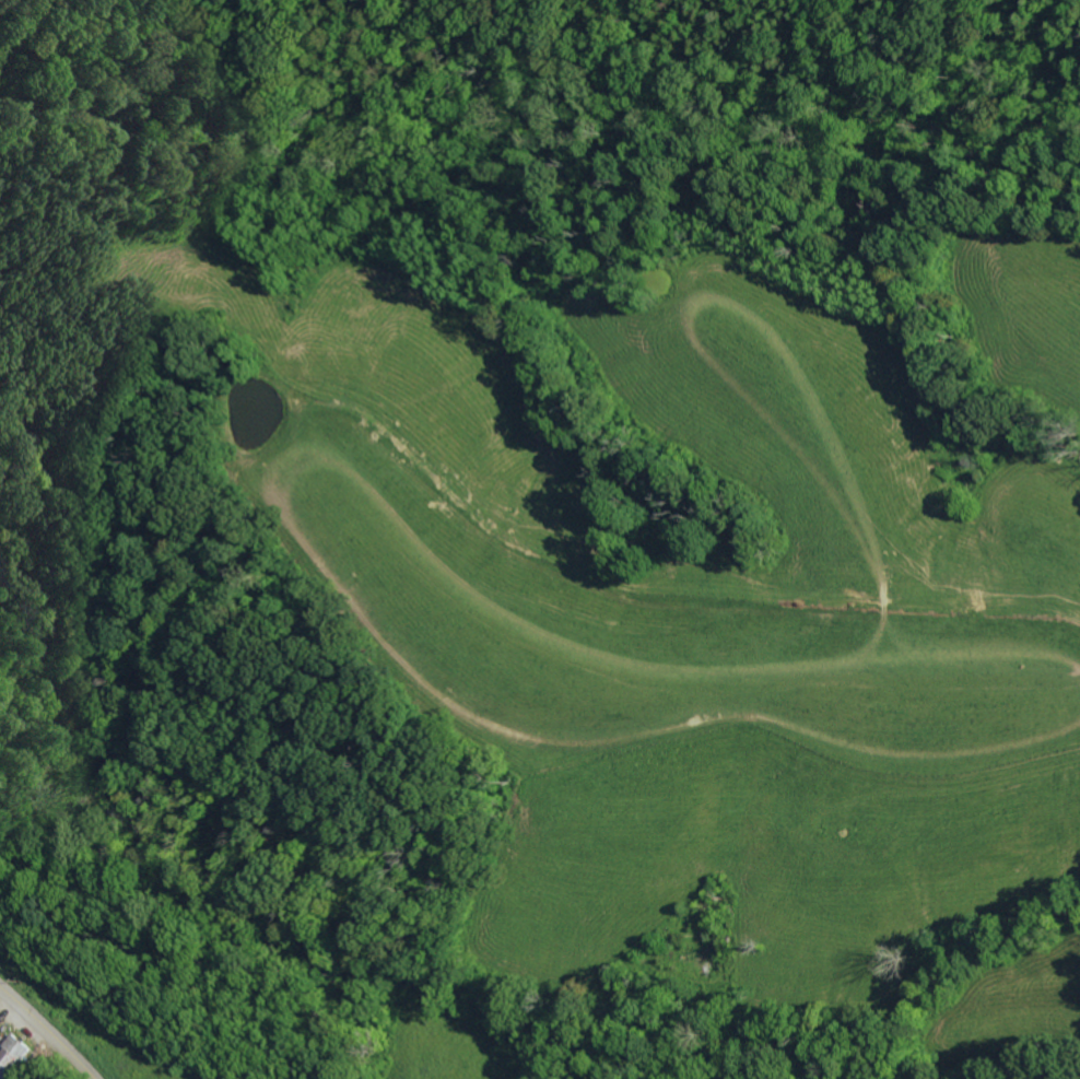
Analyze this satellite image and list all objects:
road: (42, 1035)
building: (13, 1055)

